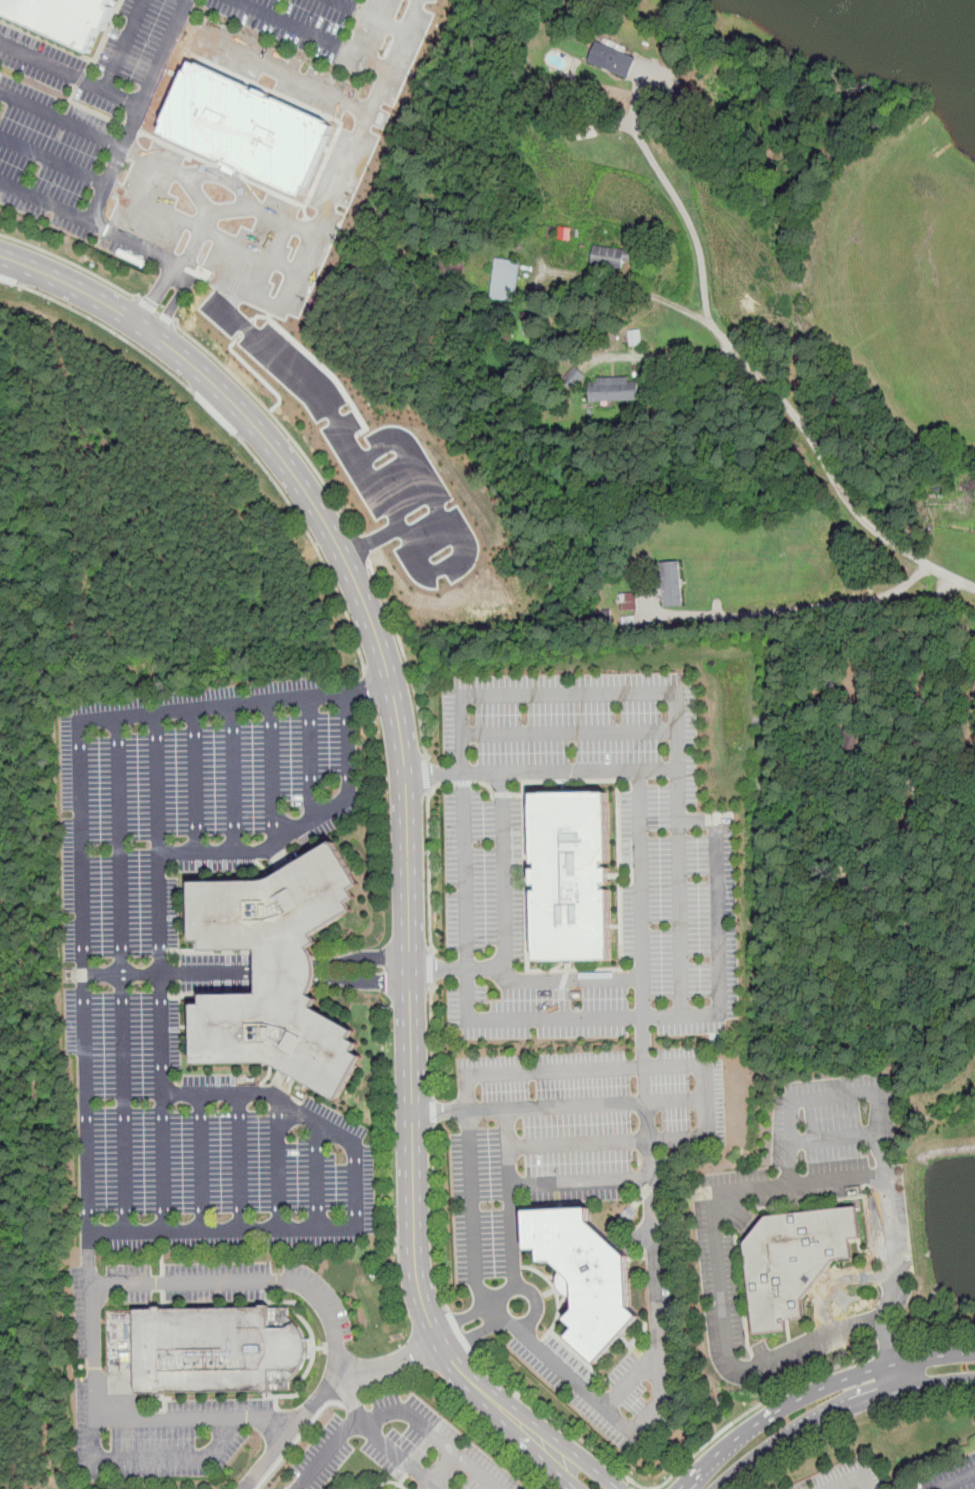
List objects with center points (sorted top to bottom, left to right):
road: (370, 15)
building: (63, 18)
road: (314, 33)
road: (120, 44)
parking lot: (279, 45)
building: (613, 58)
road: (273, 66)
road: (69, 73)
road: (137, 110)
road: (61, 116)
building: (253, 129)
parking lot: (64, 132)
road: (52, 160)
road: (174, 170)
road: (225, 176)
road: (672, 193)
road: (44, 201)
road: (236, 208)
parking lot: (232, 221)
road: (200, 227)
road: (307, 250)
building: (609, 256)
road: (69, 262)
building: (505, 279)
road: (11, 281)
road: (154, 291)
road: (654, 298)
road: (175, 302)
road: (155, 310)
road: (111, 331)
building: (634, 337)
road: (675, 358)
building: (573, 377)
building: (615, 388)
road: (214, 414)
parking lot: (368, 455)
road: (828, 469)
road: (386, 502)
road: (344, 515)
road: (370, 538)
road: (315, 546)
building: (673, 583)
building: (628, 601)
road: (795, 608)
road: (368, 680)
building: (974, 687)
road: (922, 703)
parking lot: (571, 727)
road: (570, 733)
road: (309, 755)
road: (657, 768)
road: (272, 770)
road: (427, 775)
road: (234, 776)
road: (197, 778)
road: (678, 781)
road: (306, 823)
road: (406, 824)
road: (429, 857)
road: (505, 869)
parking lot: (484, 870)
building: (572, 876)
road: (680, 915)
parking lot: (635, 937)
parking lot: (194, 965)
road: (431, 968)
building: (276, 970)
road: (122, 973)
road: (580, 979)
road: (642, 1022)
road: (432, 1040)
road: (491, 1072)
road: (250, 1093)
road: (675, 1099)
road: (433, 1110)
road: (88, 1136)
road: (833, 1136)
road: (789, 1153)
road: (239, 1161)
road: (163, 1162)
road: (206, 1162)
road: (279, 1165)
road: (317, 1176)
road: (836, 1178)
road: (579, 1180)
parking lot: (791, 1185)
parking lot: (583, 1194)
road: (435, 1219)
parking lot: (891, 1222)
building: (797, 1258)
building: (586, 1276)
road: (654, 1279)
road: (841, 1282)
parking lot: (234, 1288)
road: (315, 1294)
parking lot: (898, 1300)
road: (536, 1306)
road: (458, 1333)
road: (945, 1340)
building: (218, 1348)
parking lot: (801, 1348)
road: (896, 1349)
road: (630, 1379)
road: (824, 1398)
road: (753, 1408)
road: (168, 1417)
road: (559, 1424)
parking lot: (157, 1432)
road: (434, 1435)
road: (297, 1439)
parking lot: (427, 1448)
parking lot: (329, 1450)
road: (398, 1455)
road: (266, 1459)
road: (441, 1470)
parking lot: (948, 1476)
parking lot: (848, 1477)
road: (854, 1478)
road: (957, 1480)

